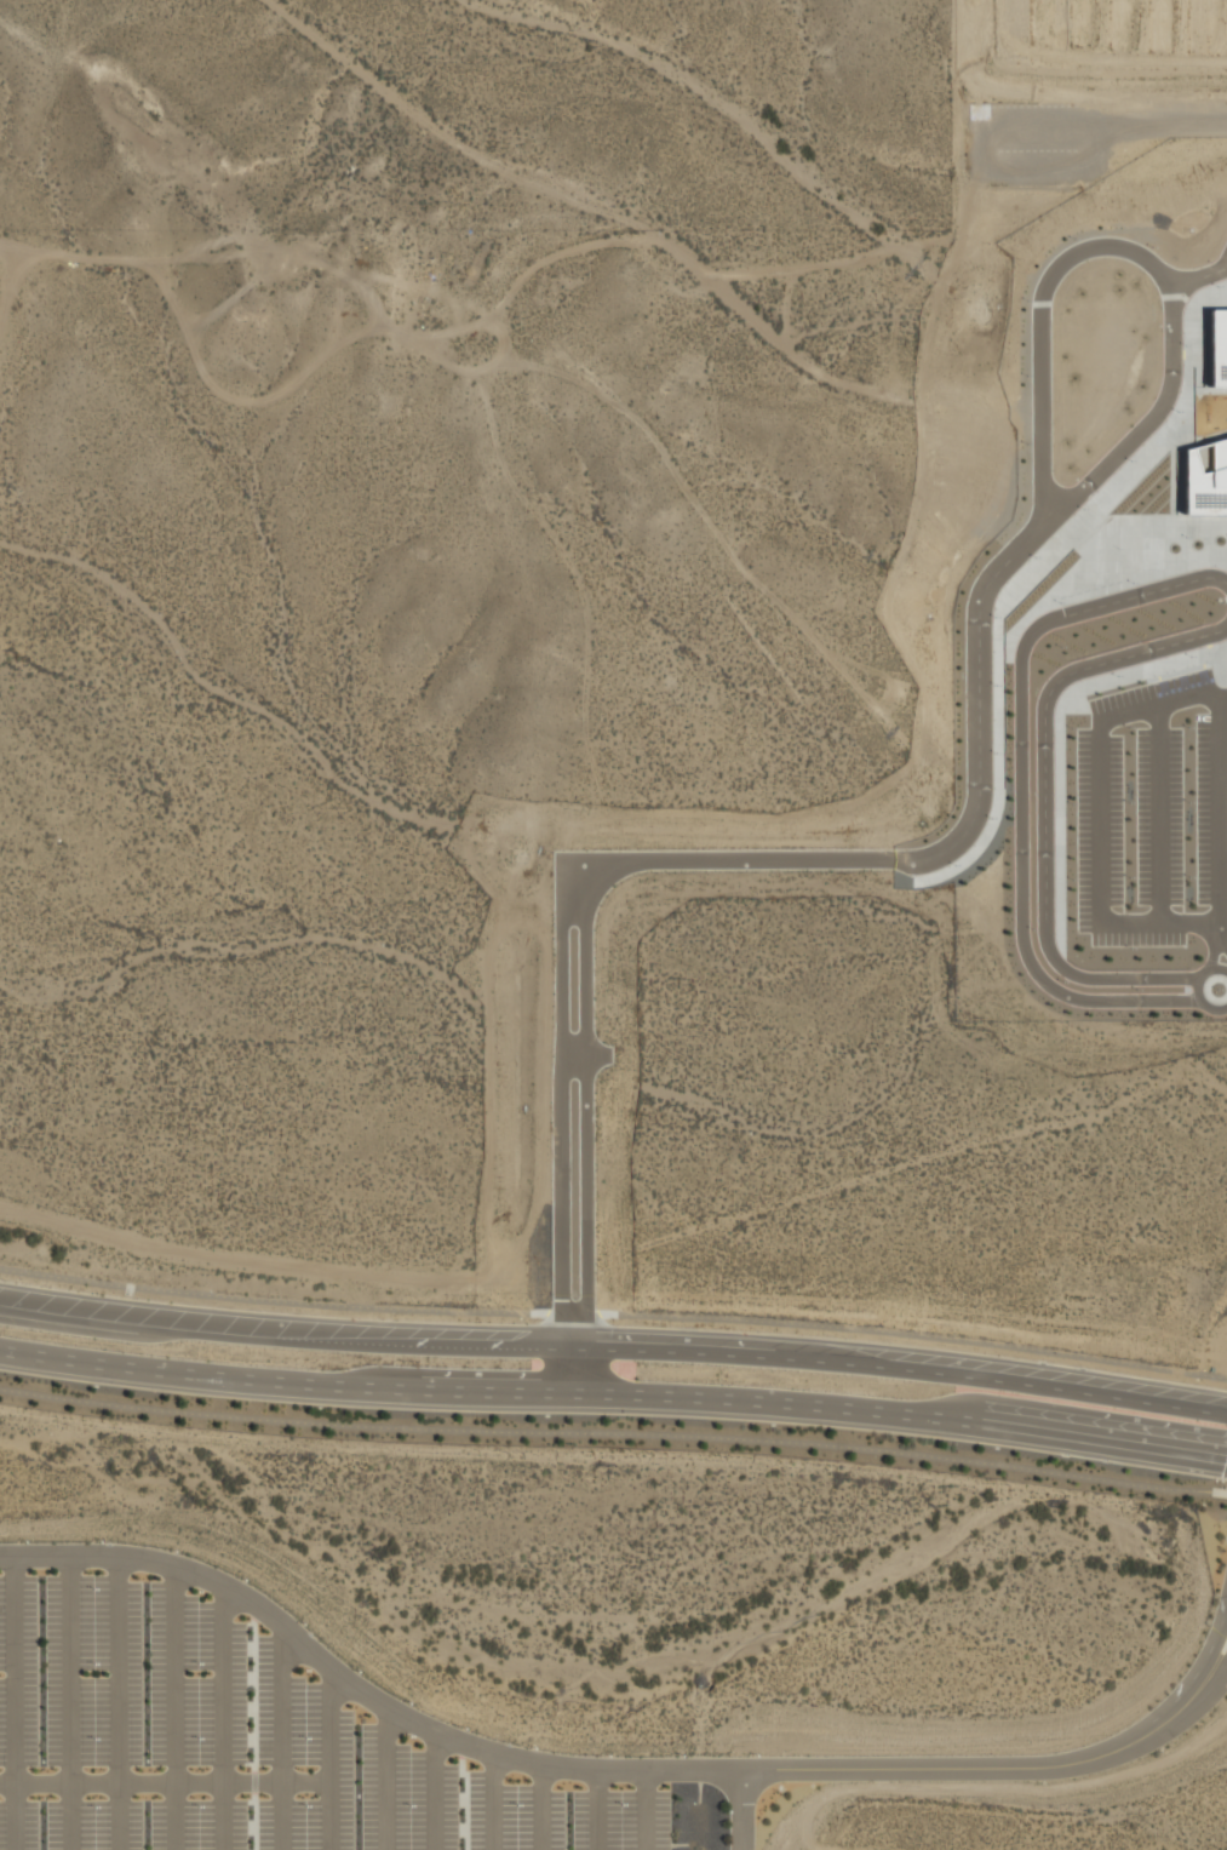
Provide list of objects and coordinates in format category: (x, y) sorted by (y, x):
road: (1200, 268)
road: (1044, 326)
building: (1216, 349)
building: (1205, 479)
road: (866, 850)
road: (1033, 923)
road: (614, 1315)
road: (614, 1335)
road: (614, 1396)
road: (613, 1434)
road: (1215, 1648)
road: (67, 1668)
road: (119, 1669)
road: (1215, 1671)
road: (173, 1673)
road: (222, 1684)
road: (13, 1702)
road: (281, 1705)
parking lot: (253, 1745)
road: (329, 1758)
road: (586, 1770)
road: (389, 1779)
road: (165, 1783)
road: (440, 1793)
road: (492, 1802)
road: (543, 1809)
road: (603, 1810)
road: (649, 1812)
road: (68, 1816)
road: (117, 1816)
road: (174, 1816)
road: (223, 1816)
road: (282, 1816)
road: (746, 1816)

